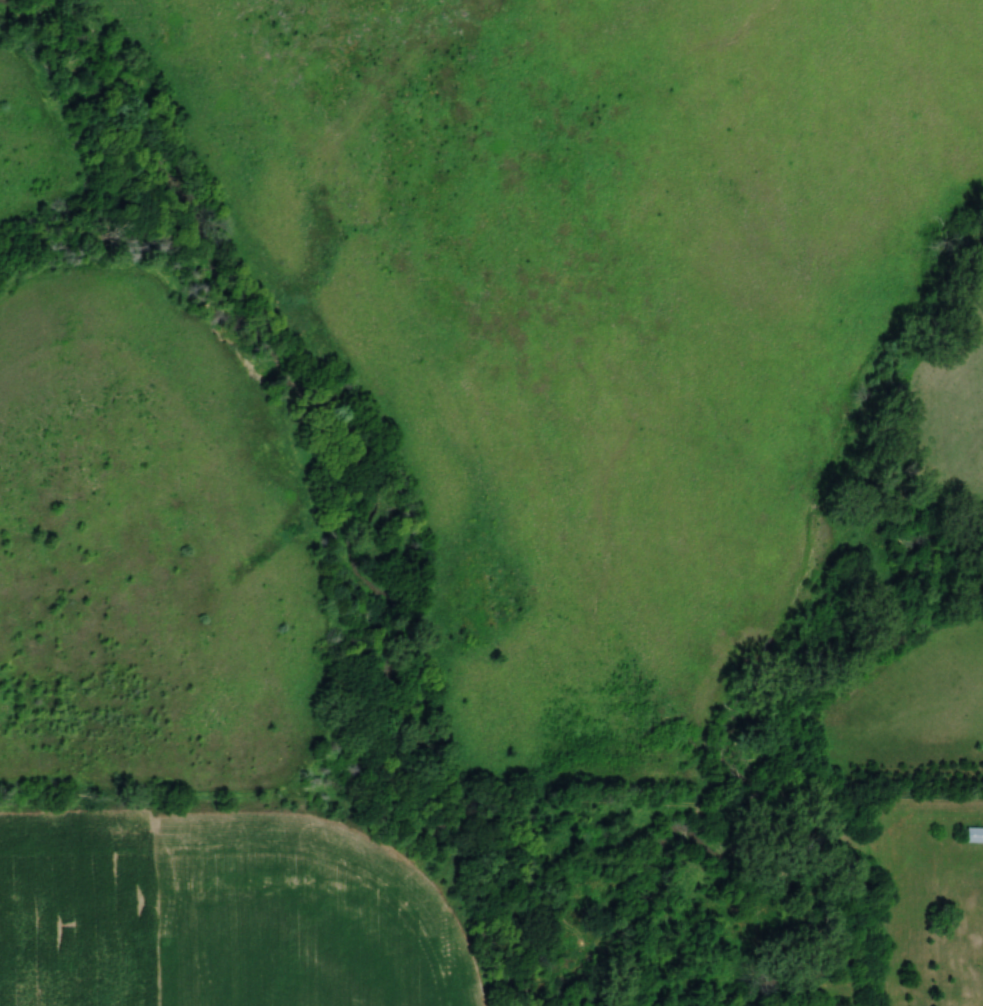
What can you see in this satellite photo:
building: (970, 834)

